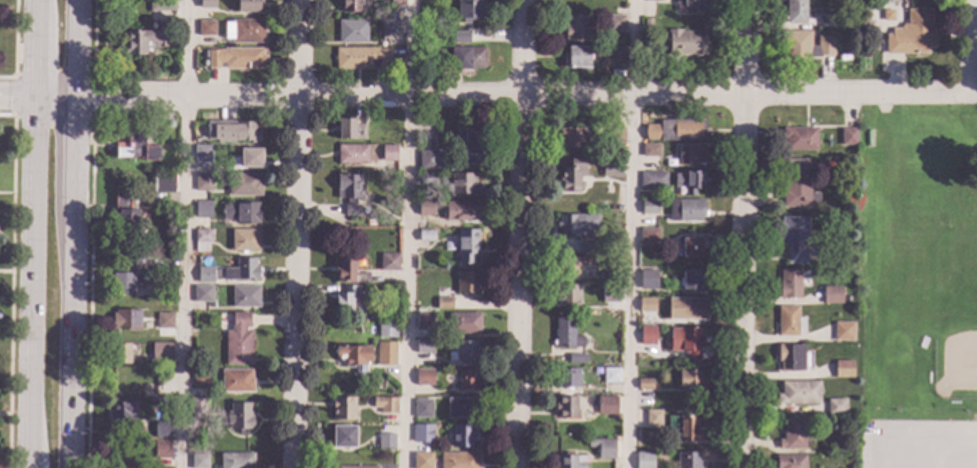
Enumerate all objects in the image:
building: (852, 0)
building: (204, 1)
building: (653, 1)
building: (395, 4)
building: (161, 5)
building: (247, 5)
building: (350, 6)
building: (692, 6)
building: (469, 10)
building: (796, 11)
building: (827, 21)
building: (647, 22)
building: (614, 23)
building: (388, 28)
building: (575, 28)
building: (206, 29)
building: (246, 31)
building: (352, 32)
building: (911, 35)
building: (460, 37)
building: (144, 42)
building: (864, 42)
building: (685, 43)
road: (970, 46)
building: (804, 47)
road: (74, 49)
building: (617, 53)
building: (236, 58)
building: (464, 58)
building: (576, 58)
road: (14, 59)
building: (362, 59)
road: (521, 95)
road: (36, 99)
building: (169, 124)
building: (349, 130)
building: (677, 130)
building: (232, 132)
building: (615, 136)
building: (571, 137)
building: (848, 137)
building: (799, 138)
building: (868, 138)
building: (474, 145)
building: (135, 148)
building: (651, 150)
building: (388, 153)
road: (72, 154)
building: (202, 154)
building: (352, 154)
building: (691, 156)
building: (250, 158)
building: (431, 161)
building: (611, 168)
building: (571, 176)
building: (426, 179)
building: (653, 180)
building: (689, 182)
building: (163, 183)
building: (202, 183)
building: (243, 184)
building: (797, 184)
building: (462, 185)
building: (609, 190)
building: (349, 193)
building: (648, 207)
building: (425, 208)
building: (461, 210)
building: (685, 210)
building: (202, 211)
building: (242, 213)
building: (125, 216)
building: (370, 223)
building: (576, 224)
road: (32, 233)
road: (184, 233)
road: (406, 233)
road: (297, 234)
road: (520, 234)
road: (631, 234)
road: (743, 234)
building: (425, 235)
building: (648, 237)
building: (619, 238)
building: (794, 238)
building: (244, 240)
building: (201, 241)
building: (466, 245)
building: (690, 247)
building: (584, 248)
building: (389, 262)
building: (610, 264)
building: (572, 266)
building: (241, 270)
building: (206, 272)
building: (347, 272)
building: (125, 278)
building: (647, 280)
building: (690, 280)
building: (168, 281)
building: (466, 282)
building: (789, 285)
building: (611, 291)
building: (202, 294)
building: (567, 295)
building: (831, 295)
building: (244, 297)
road: (69, 298)
building: (348, 301)
building: (443, 303)
building: (646, 305)
building: (685, 309)
building: (125, 320)
building: (164, 321)
building: (423, 321)
building: (789, 322)
building: (462, 323)
building: (386, 330)
building: (843, 332)
building: (566, 333)
building: (647, 335)
building: (165, 338)
building: (238, 341)
building: (685, 343)
building: (423, 346)
building: (165, 351)
building: (465, 352)
building: (385, 353)
building: (121, 354)
building: (353, 355)
building: (790, 358)
building: (576, 359)
building: (843, 369)
building: (610, 376)
building: (200, 378)
building: (423, 378)
building: (566, 378)
building: (689, 379)
building: (466, 380)
building: (236, 381)
building: (644, 384)
building: (798, 393)
building: (385, 405)
building: (606, 405)
building: (197, 407)
building: (566, 407)
building: (836, 407)
building: (342, 408)
building: (422, 408)
building: (461, 408)
building: (123, 413)
building: (239, 417)
building: (652, 418)
road: (67, 427)
building: (683, 427)
building: (161, 429)
building: (793, 433)
building: (422, 434)
building: (343, 436)
building: (462, 437)
building: (385, 442)
building: (602, 448)
road: (879, 448)
building: (161, 450)
building: (123, 455)
building: (422, 460)
building: (458, 460)
building: (644, 460)
building: (199, 461)
building: (235, 461)
building: (570, 461)
building: (688, 461)
building: (789, 461)
building: (364, 467)

